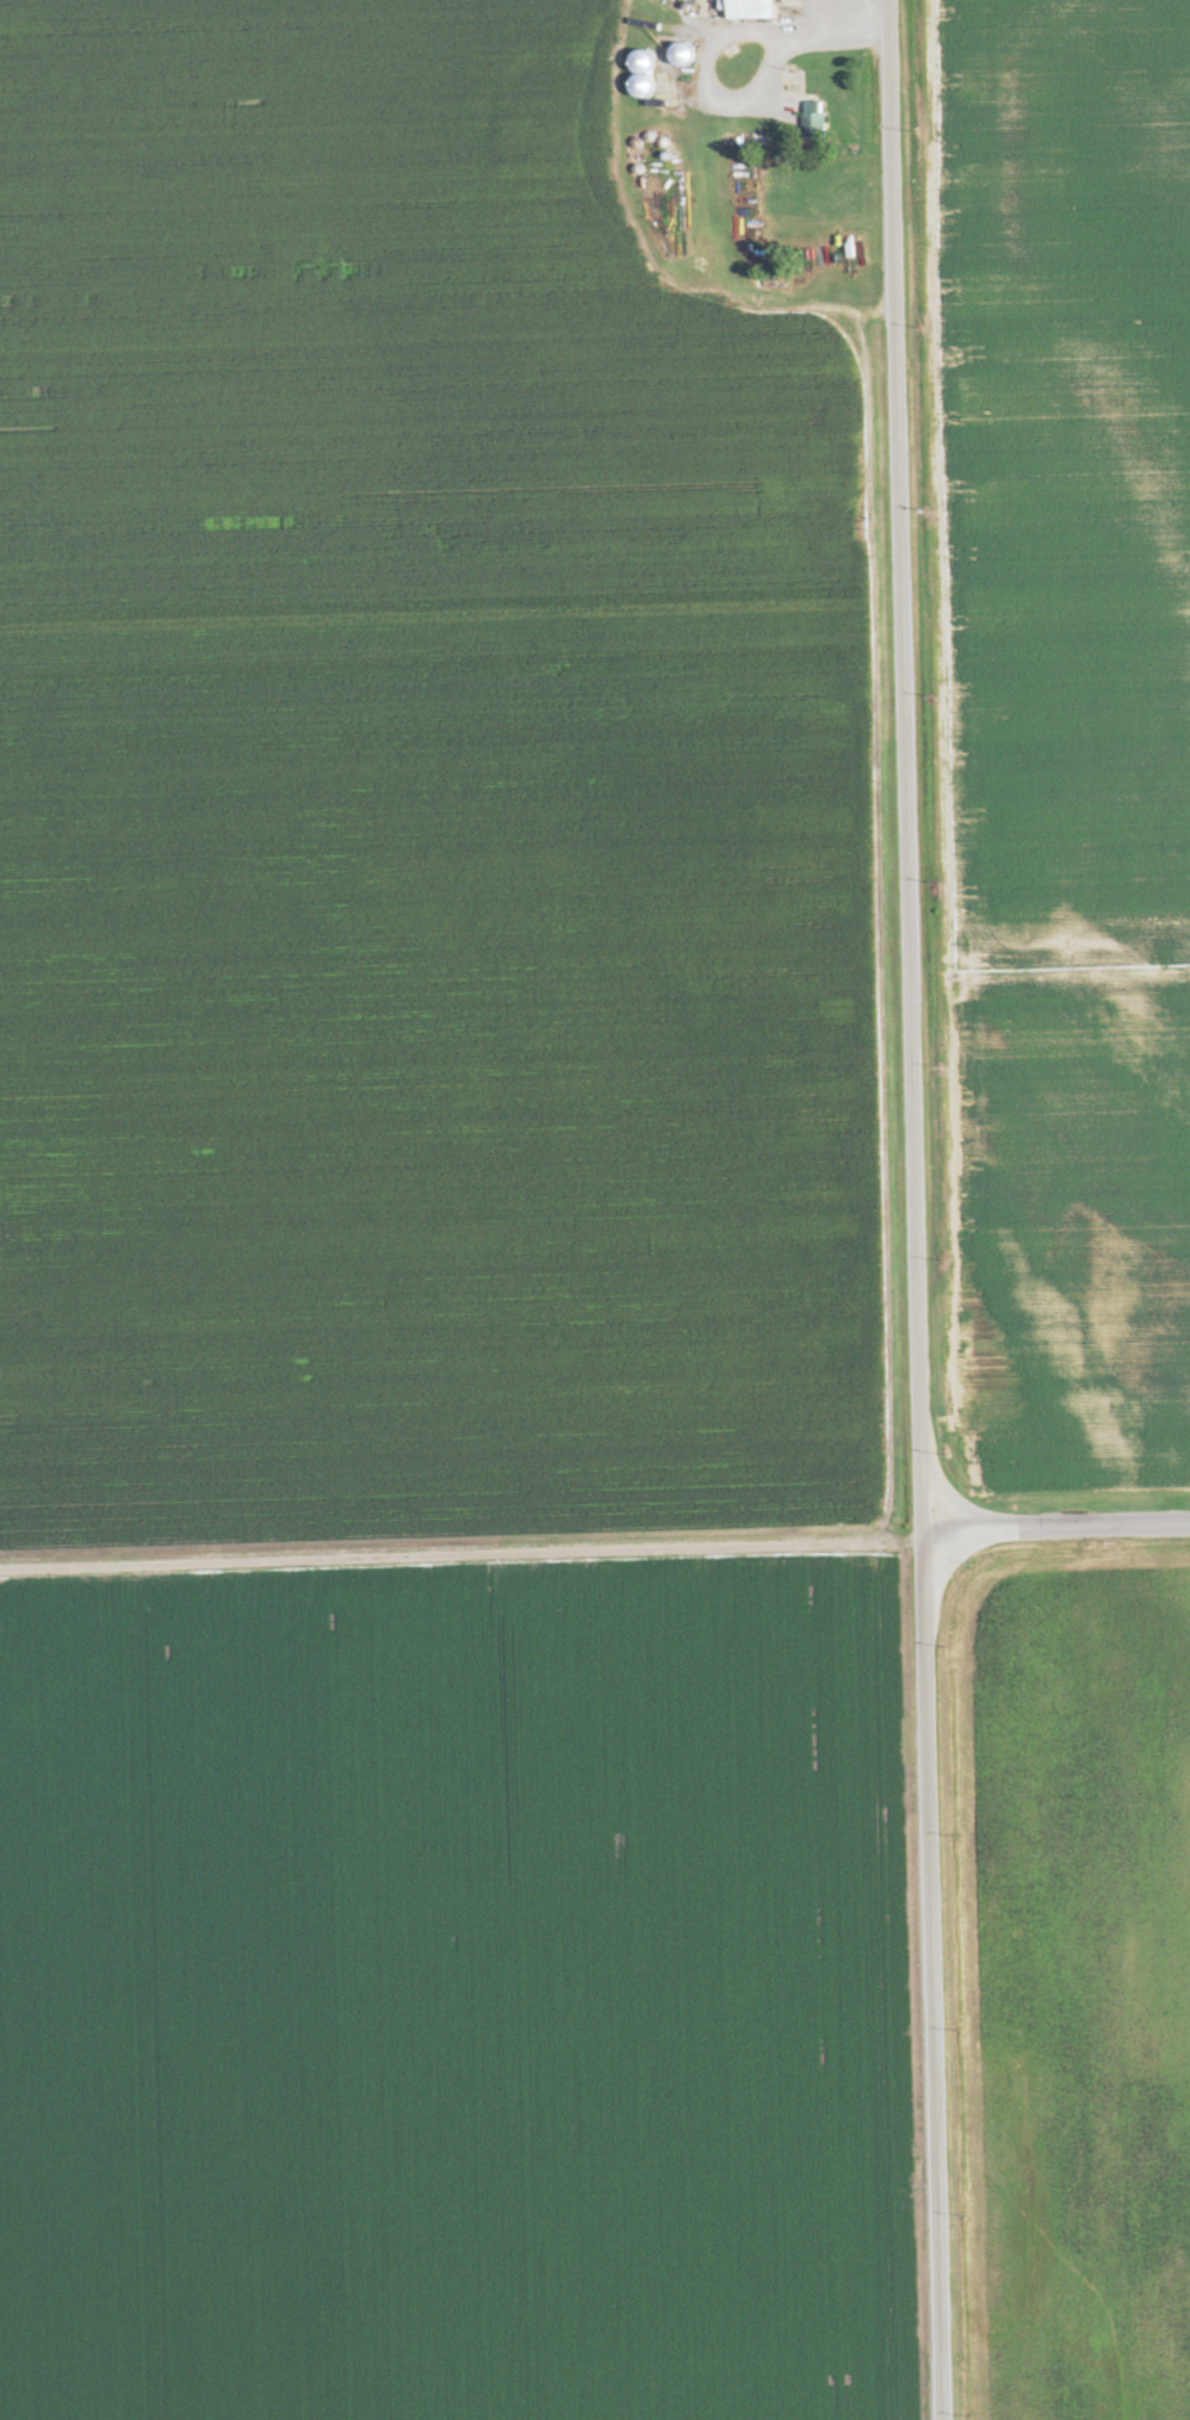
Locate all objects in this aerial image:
building: (748, 10)
road: (816, 30)
road: (912, 1209)
road: (1054, 1520)

